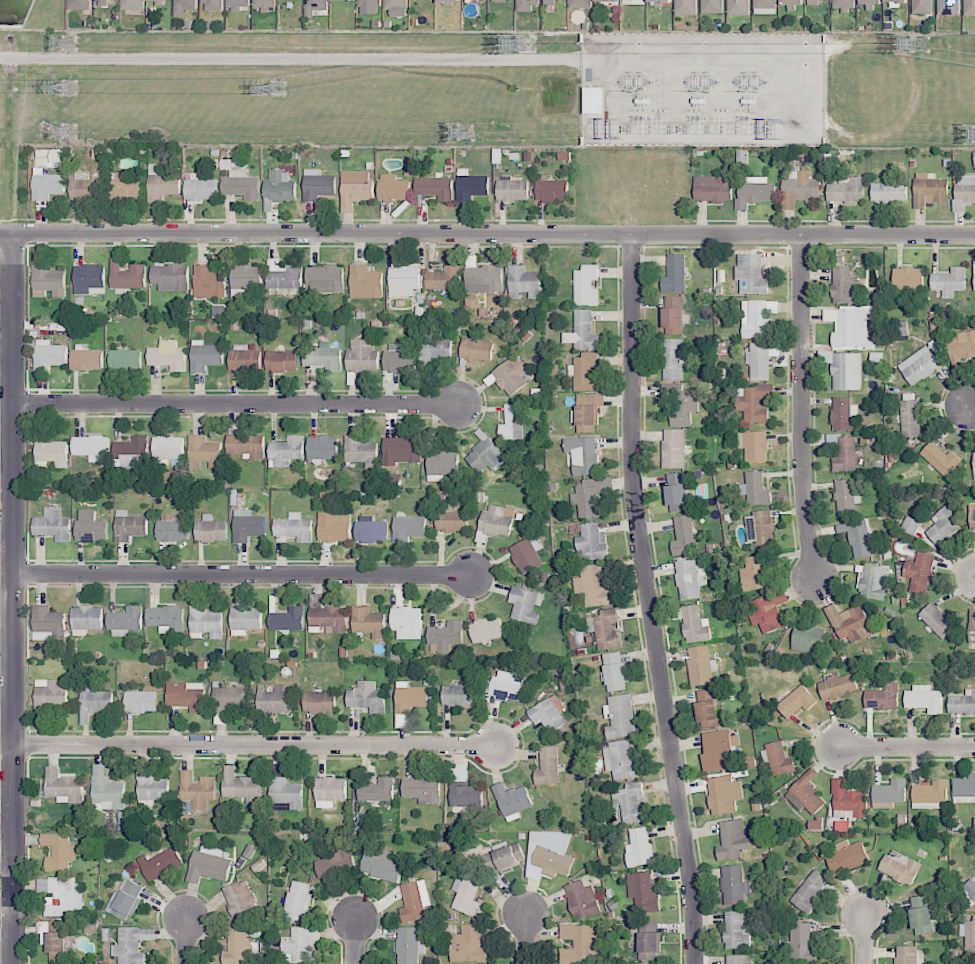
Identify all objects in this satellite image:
building: (159, 0)
building: (607, 0)
building: (894, 0)
building: (449, 1)
building: (549, 1)
building: (659, 1)
building: (103, 2)
building: (791, 2)
building: (813, 2)
building: (871, 3)
building: (79, 4)
building: (132, 4)
building: (237, 4)
building: (265, 4)
building: (317, 4)
building: (580, 4)
building: (844, 4)
building: (212, 5)
building: (526, 5)
building: (183, 6)
building: (369, 6)
building: (712, 6)
building: (764, 6)
building: (922, 6)
building: (396, 7)
building: (685, 7)
building: (738, 7)
building: (949, 7)
building: (969, 8)
power tower: (69, 43)
power tower: (525, 43)
power tower: (920, 44)
road: (291, 58)
power tower: (70, 87)
power tower: (279, 89)
power substation: (703, 89)
building: (594, 100)
power tower: (69, 132)
power tower: (465, 133)
building: (974, 159)
building: (161, 183)
building: (317, 184)
building: (241, 185)
building: (471, 185)
building: (47, 186)
building: (126, 186)
building: (435, 187)
building: (84, 188)
building: (200, 188)
building: (279, 188)
building: (355, 188)
building: (393, 188)
building: (512, 188)
building: (713, 188)
building: (799, 188)
building: (929, 189)
building: (552, 190)
building: (846, 190)
building: (754, 191)
building: (964, 191)
building: (888, 192)
road: (487, 233)
building: (47, 274)
building: (675, 274)
building: (751, 274)
building: (127, 275)
building: (284, 275)
building: (974, 275)
building: (170, 277)
building: (482, 277)
building: (246, 278)
building: (326, 278)
building: (444, 278)
building: (89, 279)
building: (404, 280)
building: (907, 280)
building: (949, 281)
building: (209, 282)
building: (365, 282)
building: (524, 282)
building: (586, 285)
building: (844, 285)
building: (674, 315)
building: (757, 317)
building: (848, 327)
building: (582, 331)
building: (961, 347)
building: (434, 349)
building: (476, 349)
building: (50, 355)
building: (167, 355)
building: (205, 355)
building: (362, 355)
building: (324, 357)
building: (86, 358)
building: (244, 358)
building: (399, 359)
building: (673, 359)
building: (125, 360)
building: (282, 360)
building: (759, 361)
building: (919, 365)
building: (846, 371)
building: (586, 372)
building: (511, 375)
building: (681, 403)
building: (754, 403)
road: (240, 404)
road: (802, 406)
road: (972, 406)
building: (587, 412)
building: (844, 414)
building: (910, 418)
building: (512, 422)
building: (245, 445)
building: (754, 445)
building: (91, 447)
building: (323, 447)
building: (167, 448)
building: (673, 448)
building: (401, 450)
building: (132, 451)
building: (286, 451)
building: (362, 451)
building: (51, 452)
building: (204, 452)
building: (583, 454)
building: (486, 455)
building: (845, 455)
building: (940, 458)
building: (441, 463)
building: (974, 465)
building: (756, 489)
building: (677, 492)
building: (846, 497)
building: (589, 498)
building: (971, 516)
building: (451, 520)
building: (497, 520)
building: (53, 524)
building: (248, 525)
building: (90, 526)
building: (129, 526)
building: (334, 526)
building: (943, 526)
building: (294, 527)
building: (172, 528)
building: (408, 528)
building: (760, 528)
building: (211, 529)
building: (370, 529)
building: (683, 536)
building: (858, 538)
building: (591, 542)
building: (526, 554)
building: (919, 571)
building: (753, 573)
road: (242, 576)
road: (974, 578)
building: (688, 579)
building: (873, 582)
building: (593, 586)
road: (14, 597)
road: (651, 599)
building: (526, 604)
building: (767, 610)
building: (327, 616)
building: (87, 618)
building: (166, 618)
building: (245, 619)
building: (288, 619)
building: (48, 620)
building: (367, 620)
building: (938, 620)
building: (125, 621)
building: (205, 622)
building: (407, 622)
building: (849, 622)
building: (695, 624)
building: (971, 626)
building: (486, 629)
building: (607, 629)
building: (445, 636)
building: (808, 638)
building: (701, 665)
building: (615, 672)
building: (506, 685)
building: (837, 685)
building: (49, 694)
building: (186, 695)
building: (458, 695)
building: (227, 697)
building: (367, 697)
building: (410, 697)
building: (882, 698)
building: (273, 699)
building: (924, 699)
building: (95, 701)
building: (140, 701)
building: (797, 701)
building: (319, 702)
building: (962, 703)
building: (707, 708)
building: (548, 713)
building: (620, 716)
road: (252, 746)
road: (907, 746)
building: (718, 750)
building: (778, 758)
building: (621, 760)
building: (548, 766)
building: (150, 785)
building: (63, 786)
building: (241, 786)
building: (422, 789)
building: (964, 789)
building: (106, 790)
building: (197, 790)
building: (377, 790)
building: (329, 791)
building: (890, 791)
building: (931, 792)
building: (806, 793)
building: (724, 794)
building: (466, 796)
building: (848, 799)
building: (512, 801)
building: (631, 802)
building: (733, 839)
building: (639, 847)
building: (59, 852)
building: (847, 855)
building: (501, 859)
building: (335, 861)
building: (553, 862)
building: (160, 863)
building: (208, 864)
building: (381, 864)
building: (900, 867)
building: (733, 884)
building: (970, 888)
building: (809, 892)
building: (466, 893)
building: (645, 893)
building: (61, 895)
building: (126, 899)
building: (240, 899)
building: (581, 899)
building: (298, 901)
building: (413, 902)
building: (920, 914)
building: (87, 924)
building: (736, 930)
building: (968, 936)
road: (864, 938)
road: (524, 940)
road: (185, 942)
road: (356, 942)
building: (579, 943)
building: (132, 944)
building: (469, 944)
building: (800, 944)
building: (301, 945)
building: (408, 945)
building: (649, 945)
building: (59, 946)
building: (237, 946)
building: (908, 955)
building: (736, 959)

